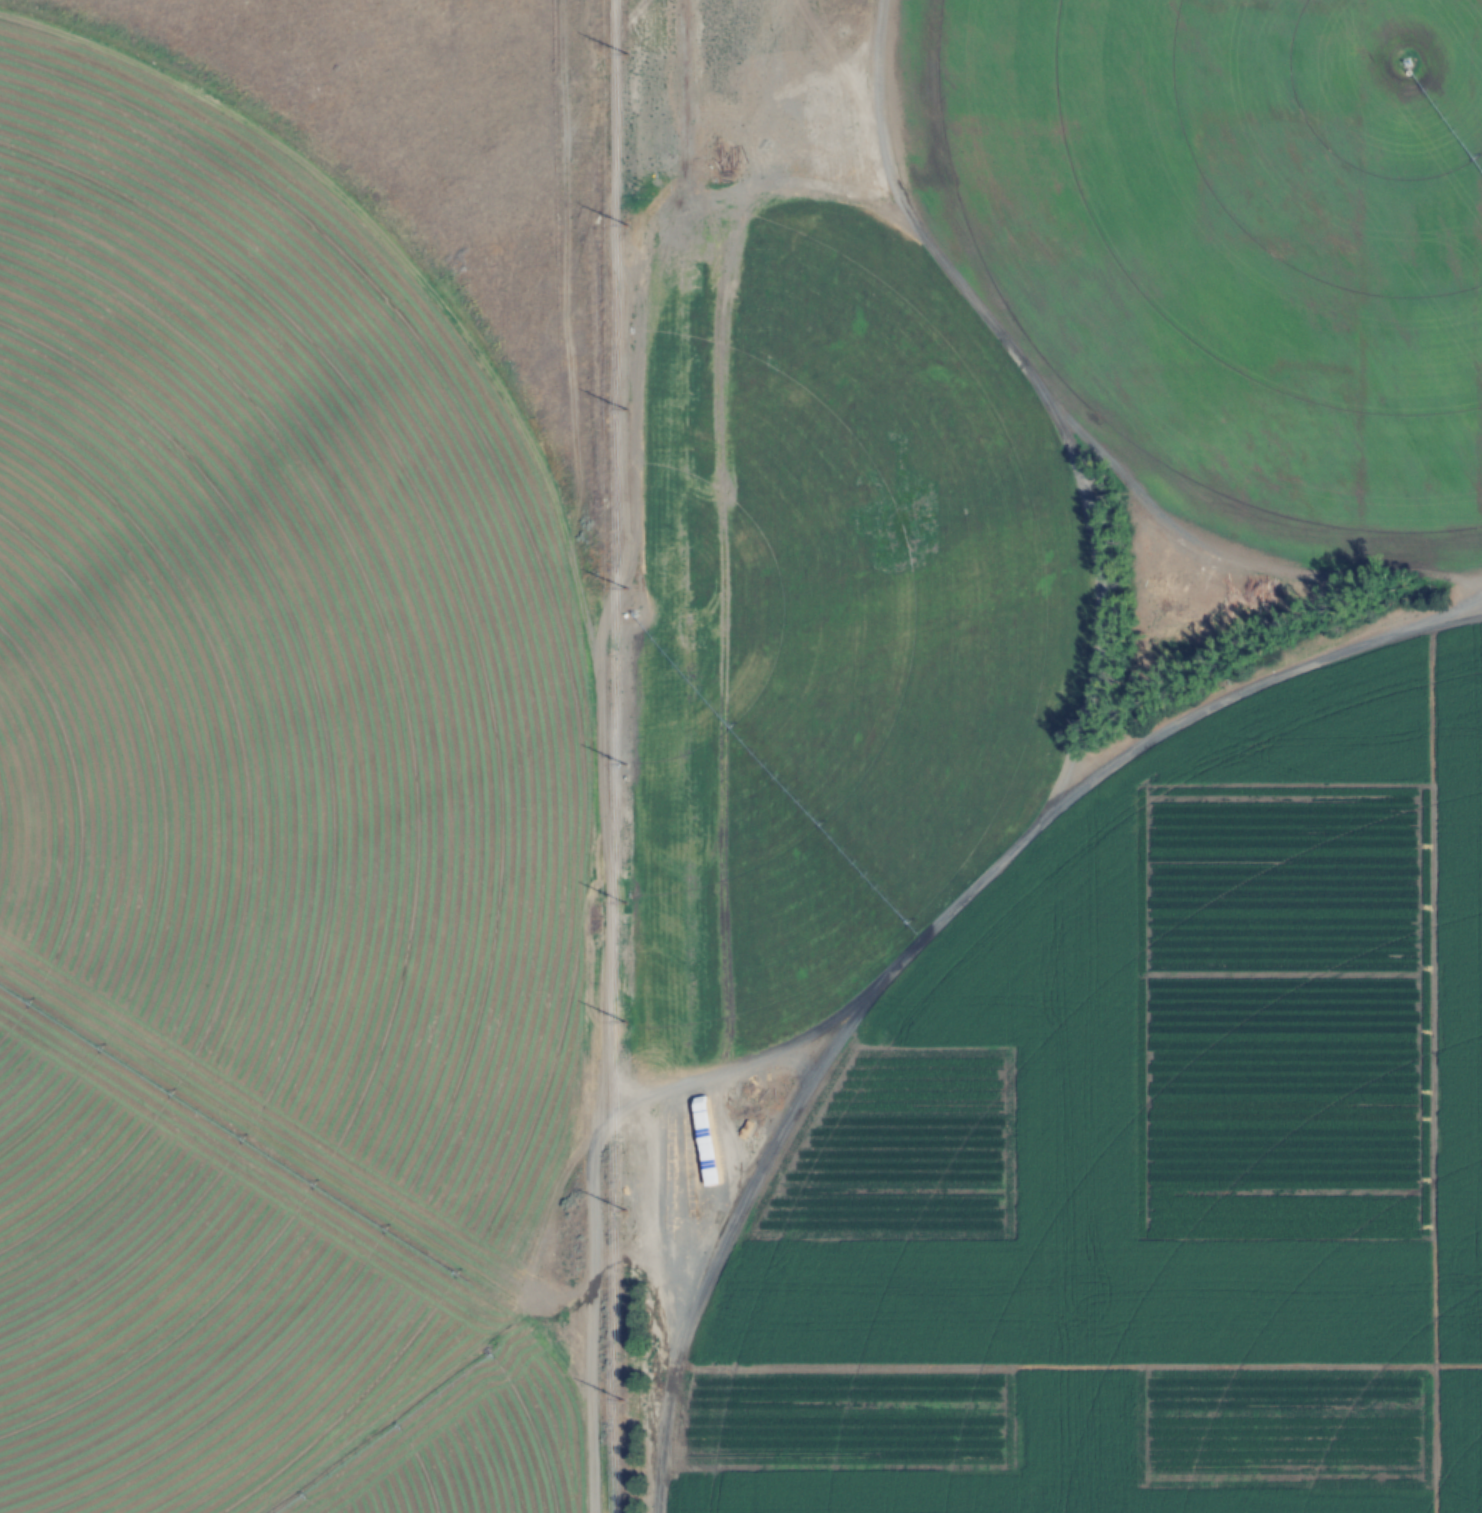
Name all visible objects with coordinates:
crop: (1250, 218)
road: (623, 756)
building: (306, 787)
crop: (246, 818)
crop: (1163, 1164)

